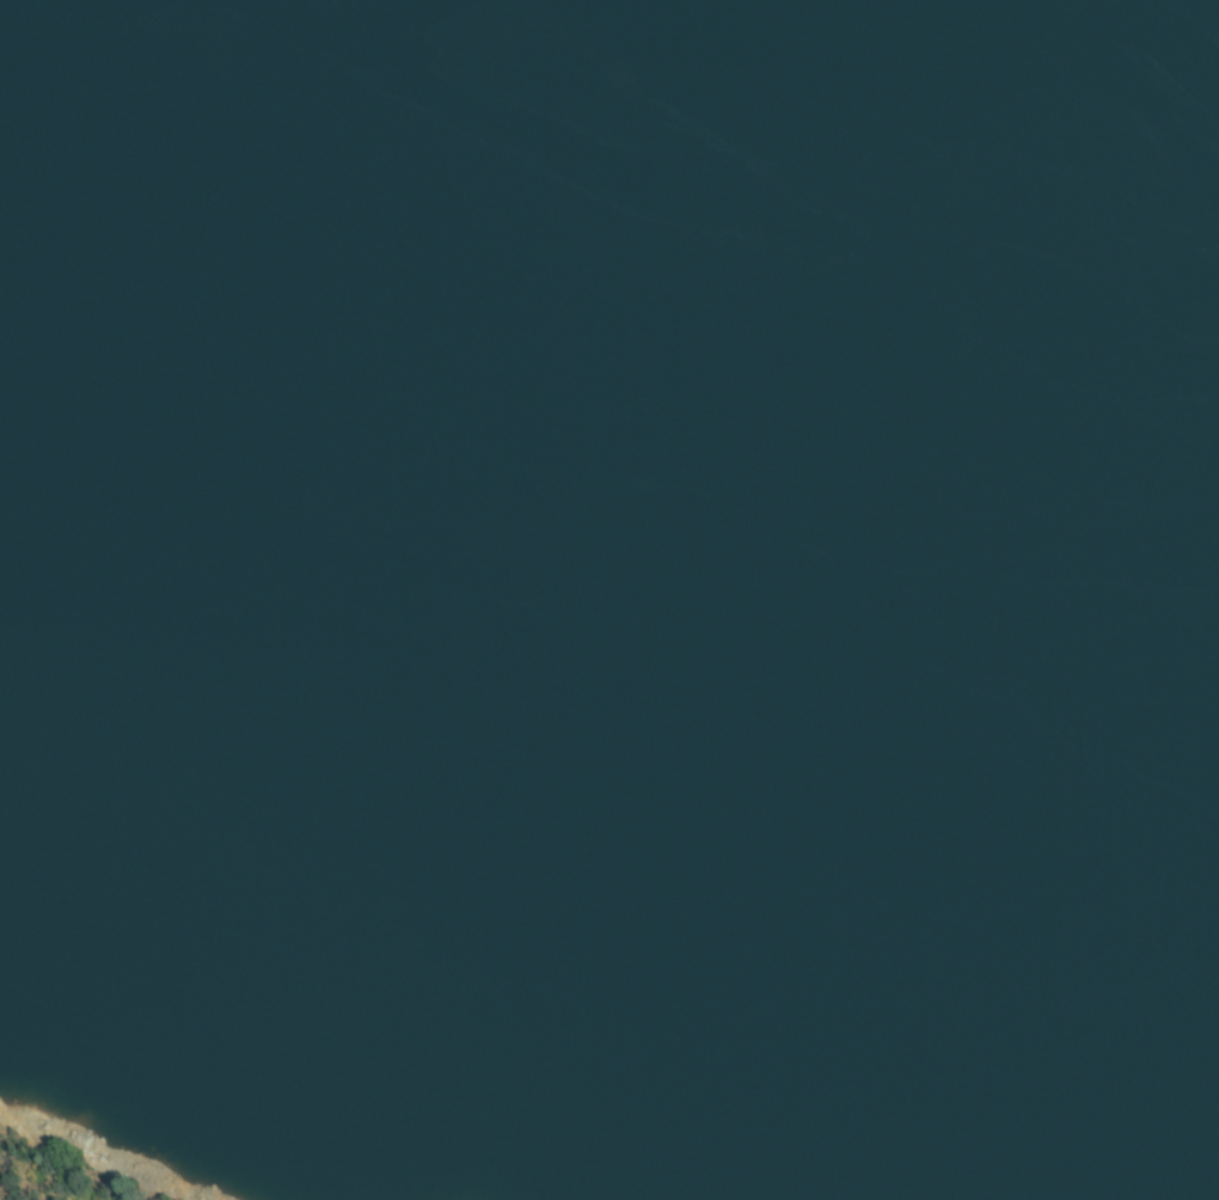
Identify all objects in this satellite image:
river: (584, 624)

